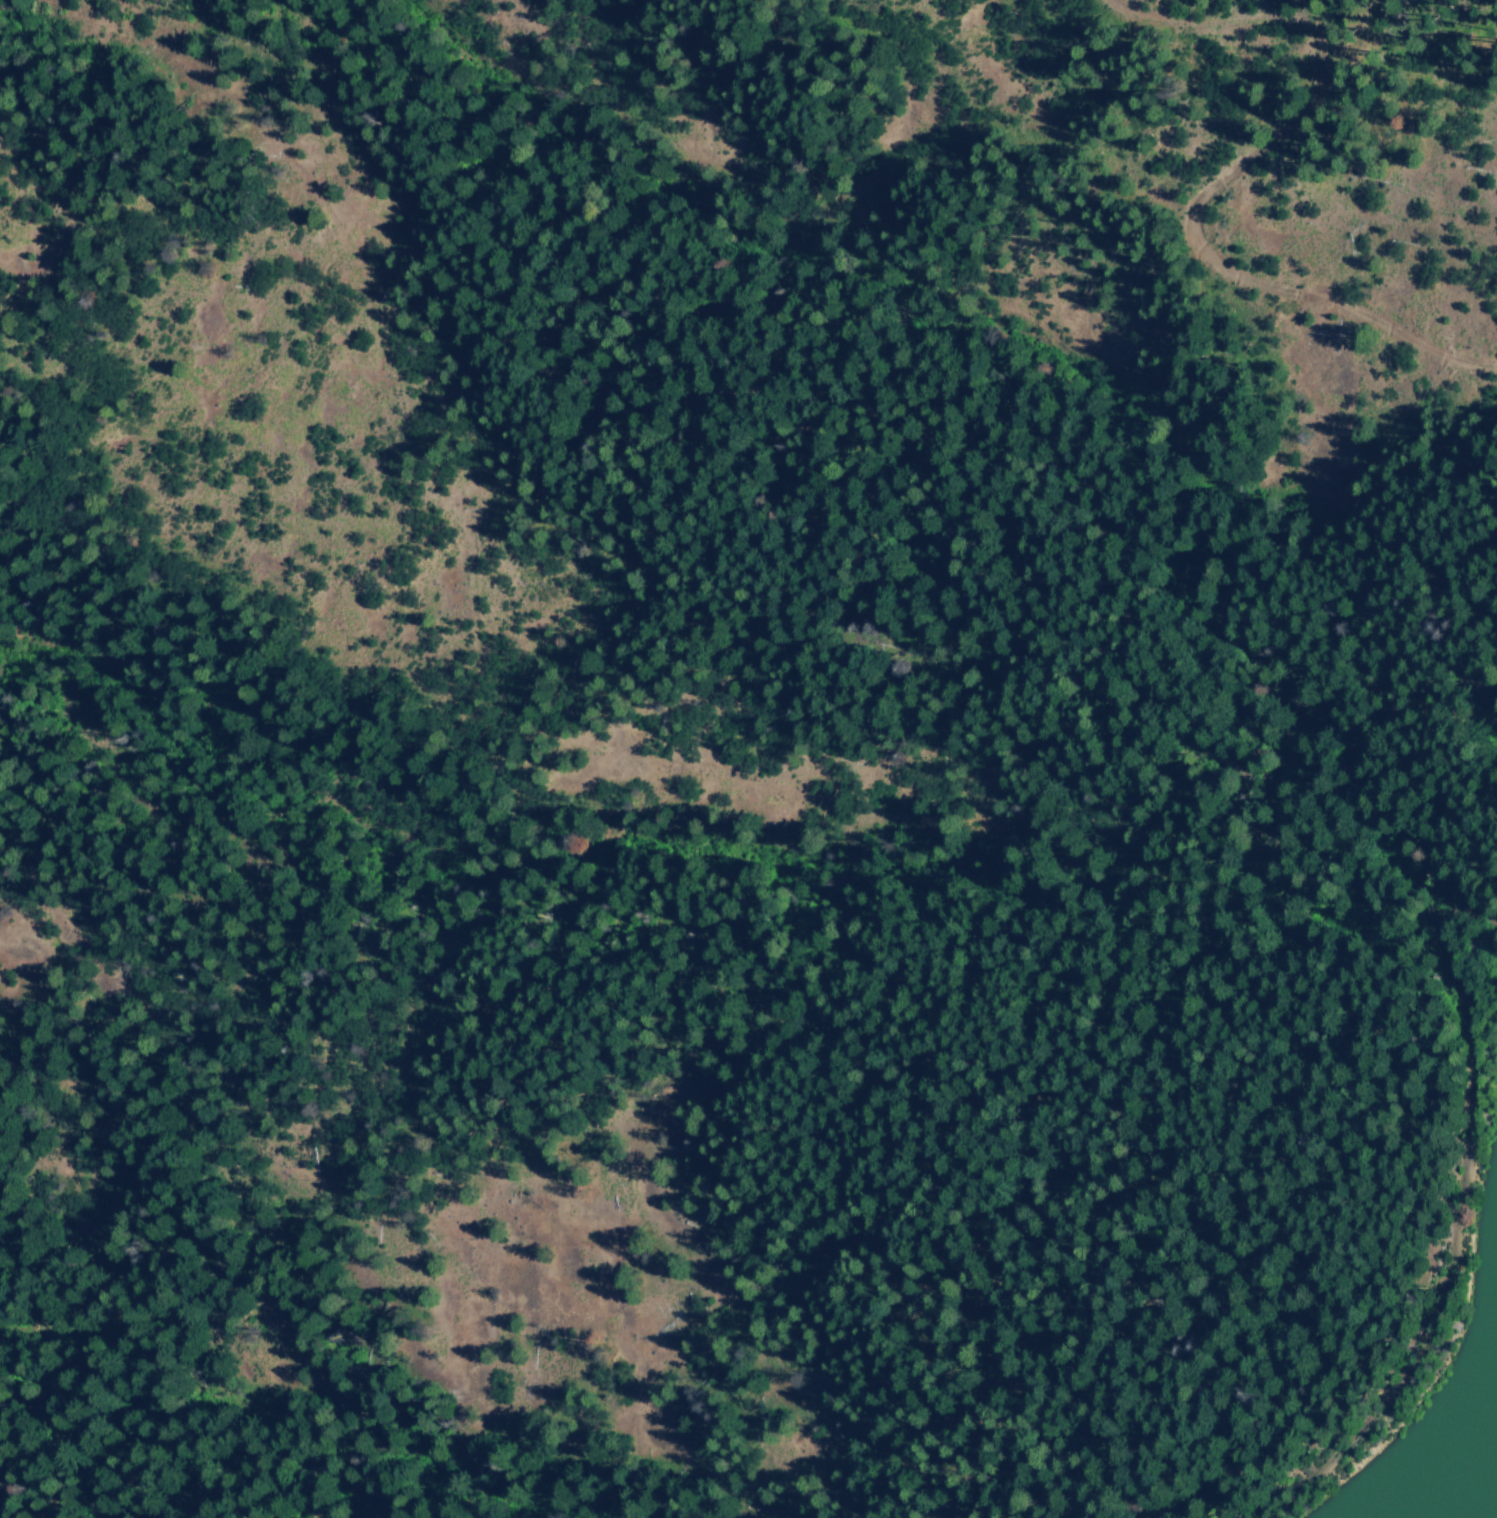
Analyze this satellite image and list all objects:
road: (1232, 220)
road: (1485, 704)
road: (1475, 917)

